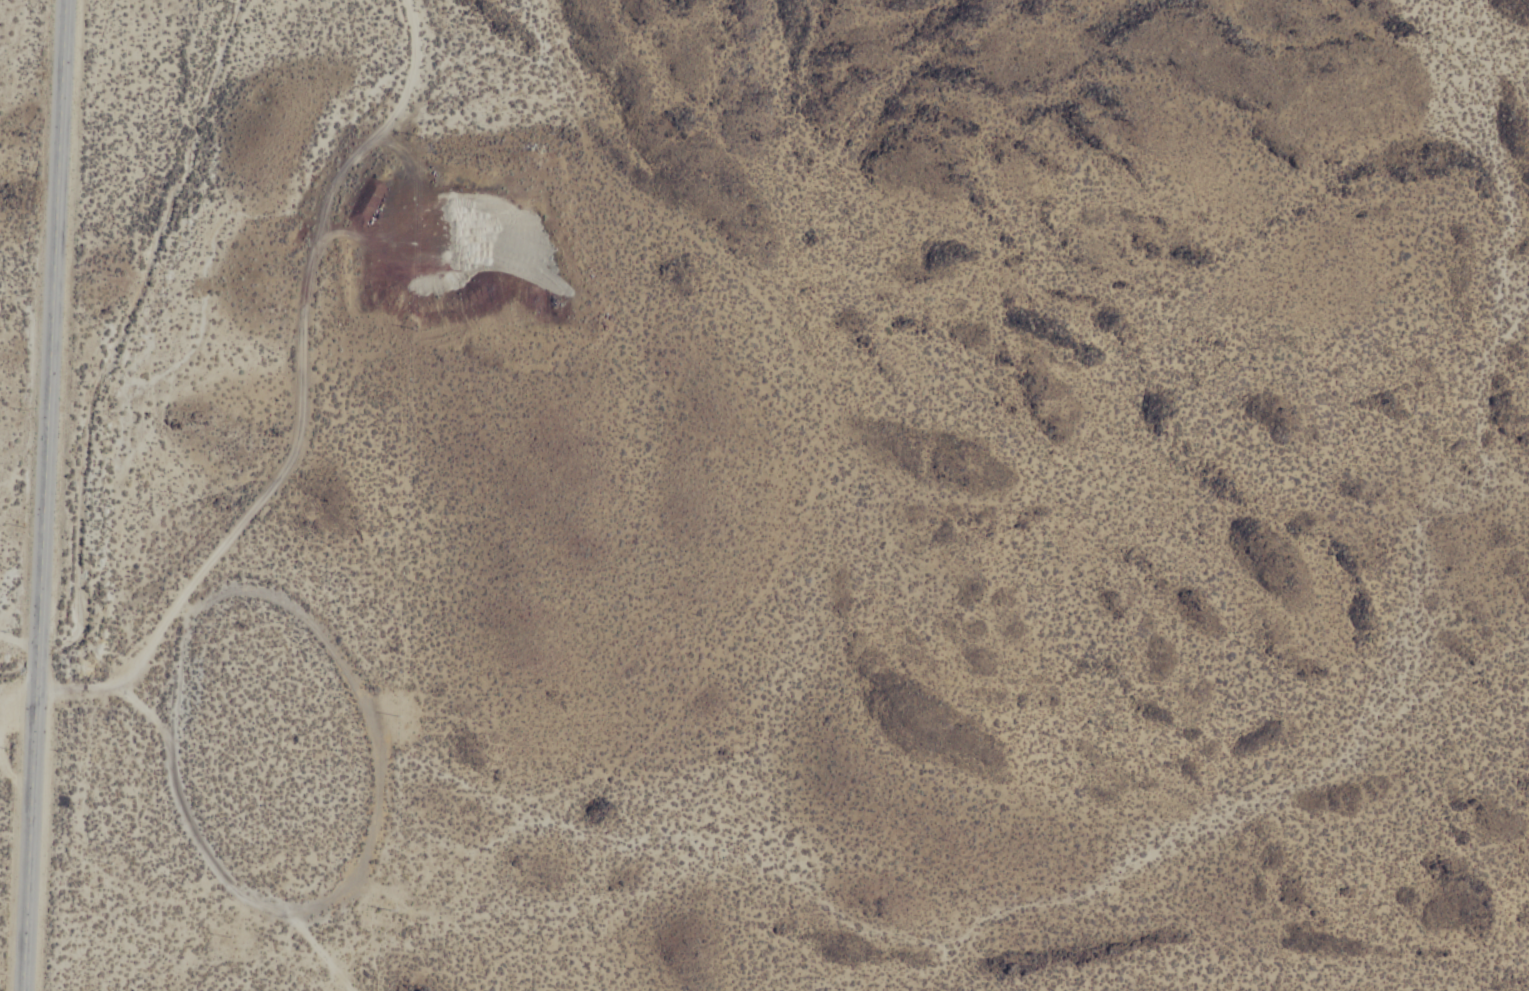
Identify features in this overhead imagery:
quarry: (457, 259)
road: (301, 393)
road: (44, 495)
road: (19, 639)
road: (212, 849)

